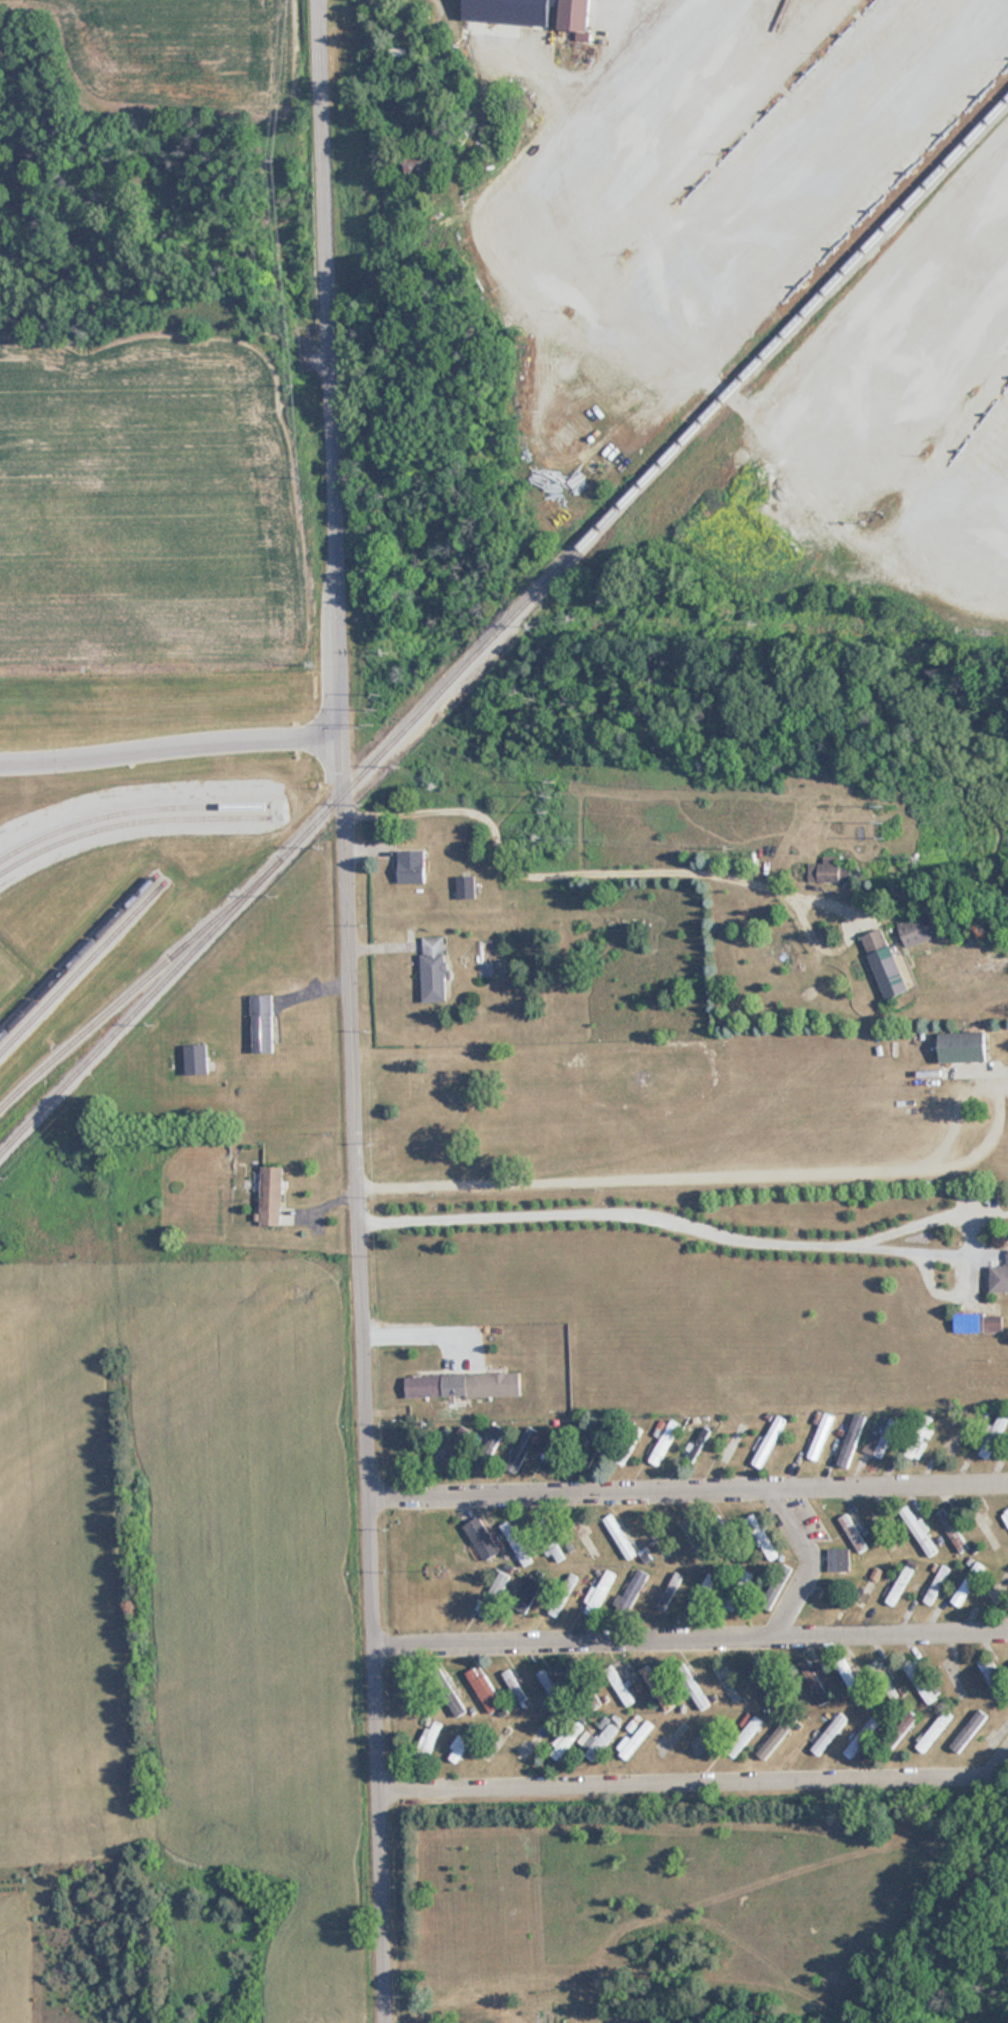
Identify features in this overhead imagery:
road: (622, 7)
building: (575, 15)
building: (402, 59)
building: (421, 166)
railway: (503, 625)
power tower: (376, 708)
road: (170, 746)
power tower: (555, 797)
power tower: (892, 822)
railway: (13, 847)
road: (587, 865)
building: (412, 866)
building: (833, 872)
building: (466, 887)
building: (922, 929)
railway: (77, 956)
building: (886, 963)
railway: (81, 966)
building: (435, 969)
railway: (133, 989)
road: (349, 1011)
building: (263, 1023)
building: (964, 1046)
building: (196, 1059)
road: (760, 1163)
building: (271, 1195)
road: (643, 1211)
building: (999, 1279)
building: (978, 1322)
building: (462, 1386)
building: (820, 1436)
building: (954, 1436)
building: (993, 1436)
building: (920, 1438)
building: (850, 1439)
building: (880, 1439)
building: (663, 1442)
building: (732, 1442)
building: (452, 1446)
building: (522, 1449)
building: (606, 1449)
road: (689, 1493)
building: (1006, 1515)
building: (909, 1524)
building: (950, 1530)
building: (507, 1531)
building: (852, 1533)
building: (618, 1536)
building: (689, 1536)
building: (583, 1537)
building: (654, 1537)
building: (760, 1537)
building: (925, 1548)
building: (524, 1557)
building: (839, 1560)
road: (811, 1565)
building: (899, 1585)
building: (935, 1585)
building: (967, 1585)
building: (631, 1588)
building: (738, 1589)
building: (669, 1590)
building: (495, 1591)
building: (703, 1592)
building: (598, 1593)
building: (526, 1594)
road: (691, 1643)
building: (877, 1669)
building: (991, 1678)
building: (851, 1681)
building: (814, 1682)
building: (762, 1684)
building: (483, 1690)
building: (699, 1691)
building: (456, 1706)
building: (967, 1731)
building: (932, 1733)
building: (995, 1736)
building: (429, 1738)
building: (635, 1739)
building: (565, 1740)
building: (533, 1742)
building: (461, 1745)
road: (696, 1787)

